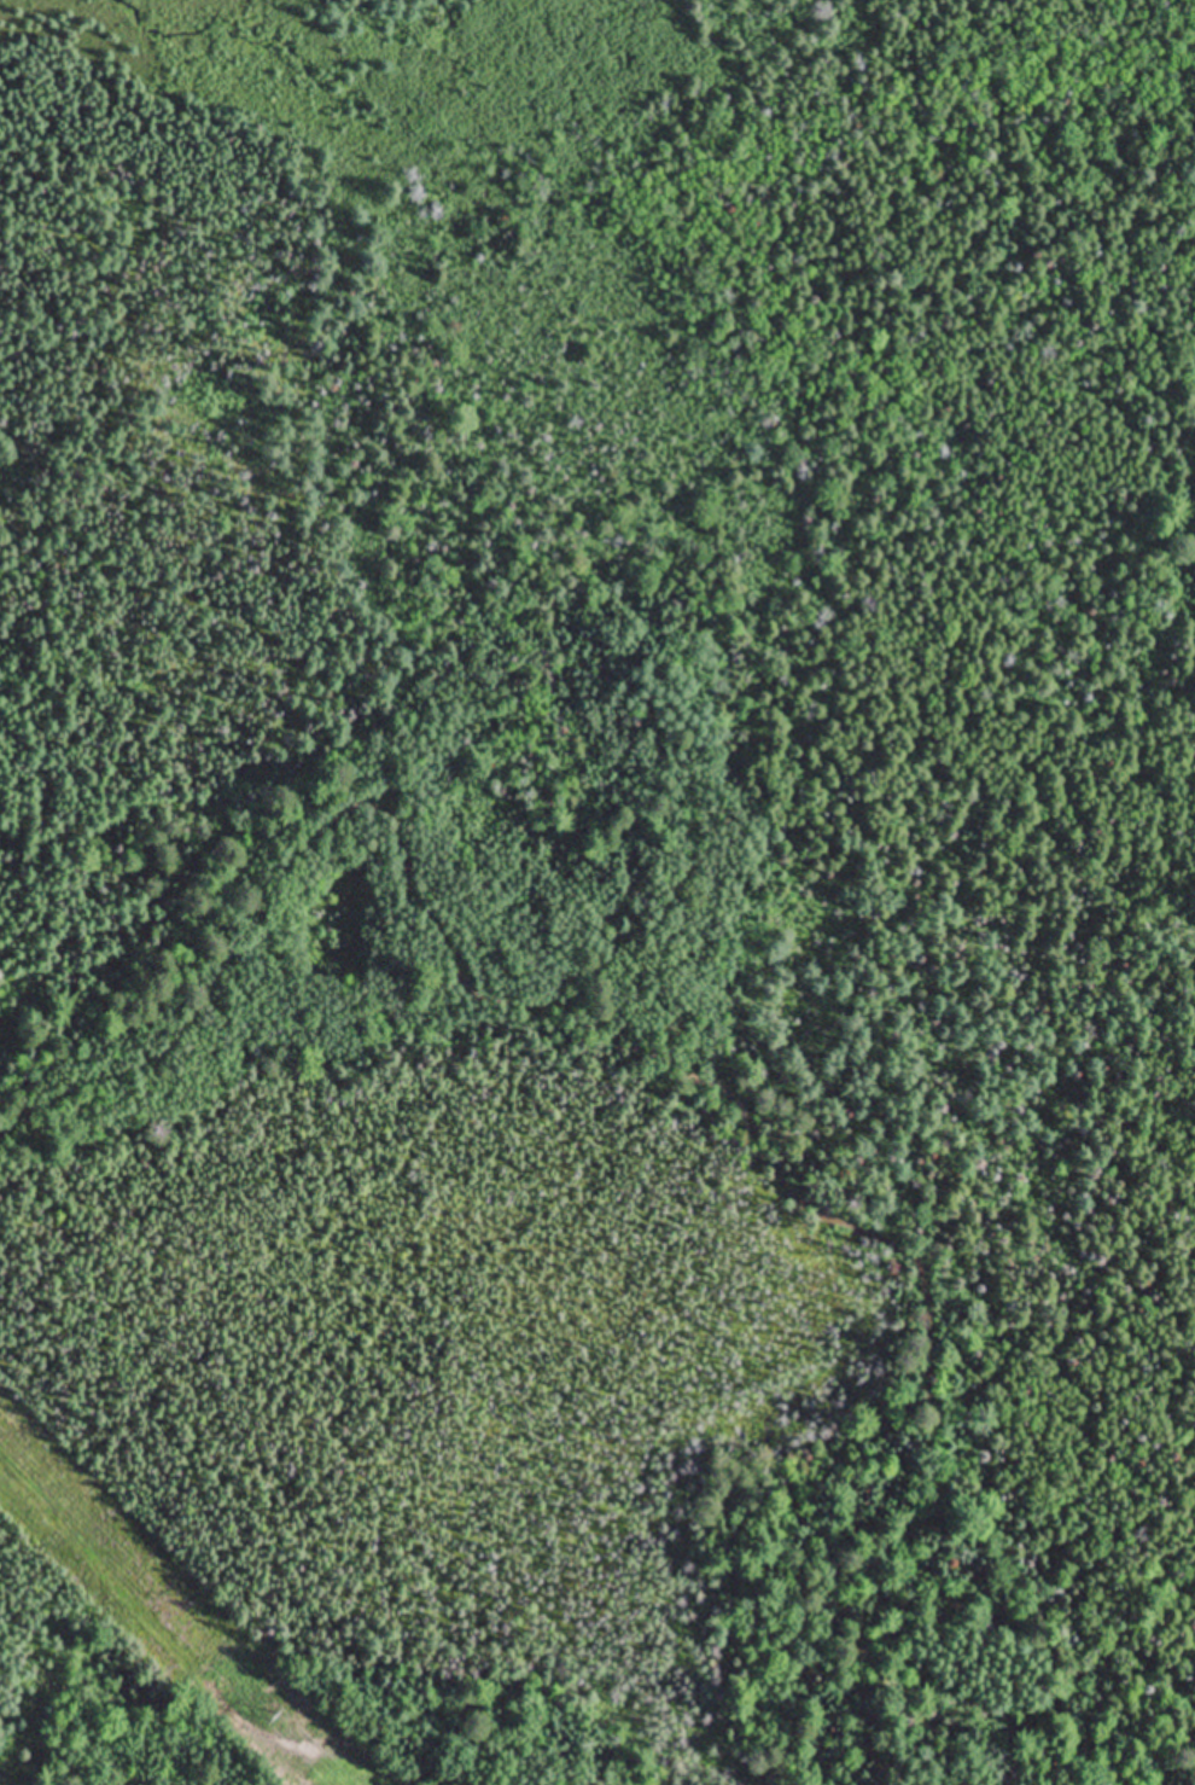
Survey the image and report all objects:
power tower: (274, 1717)

